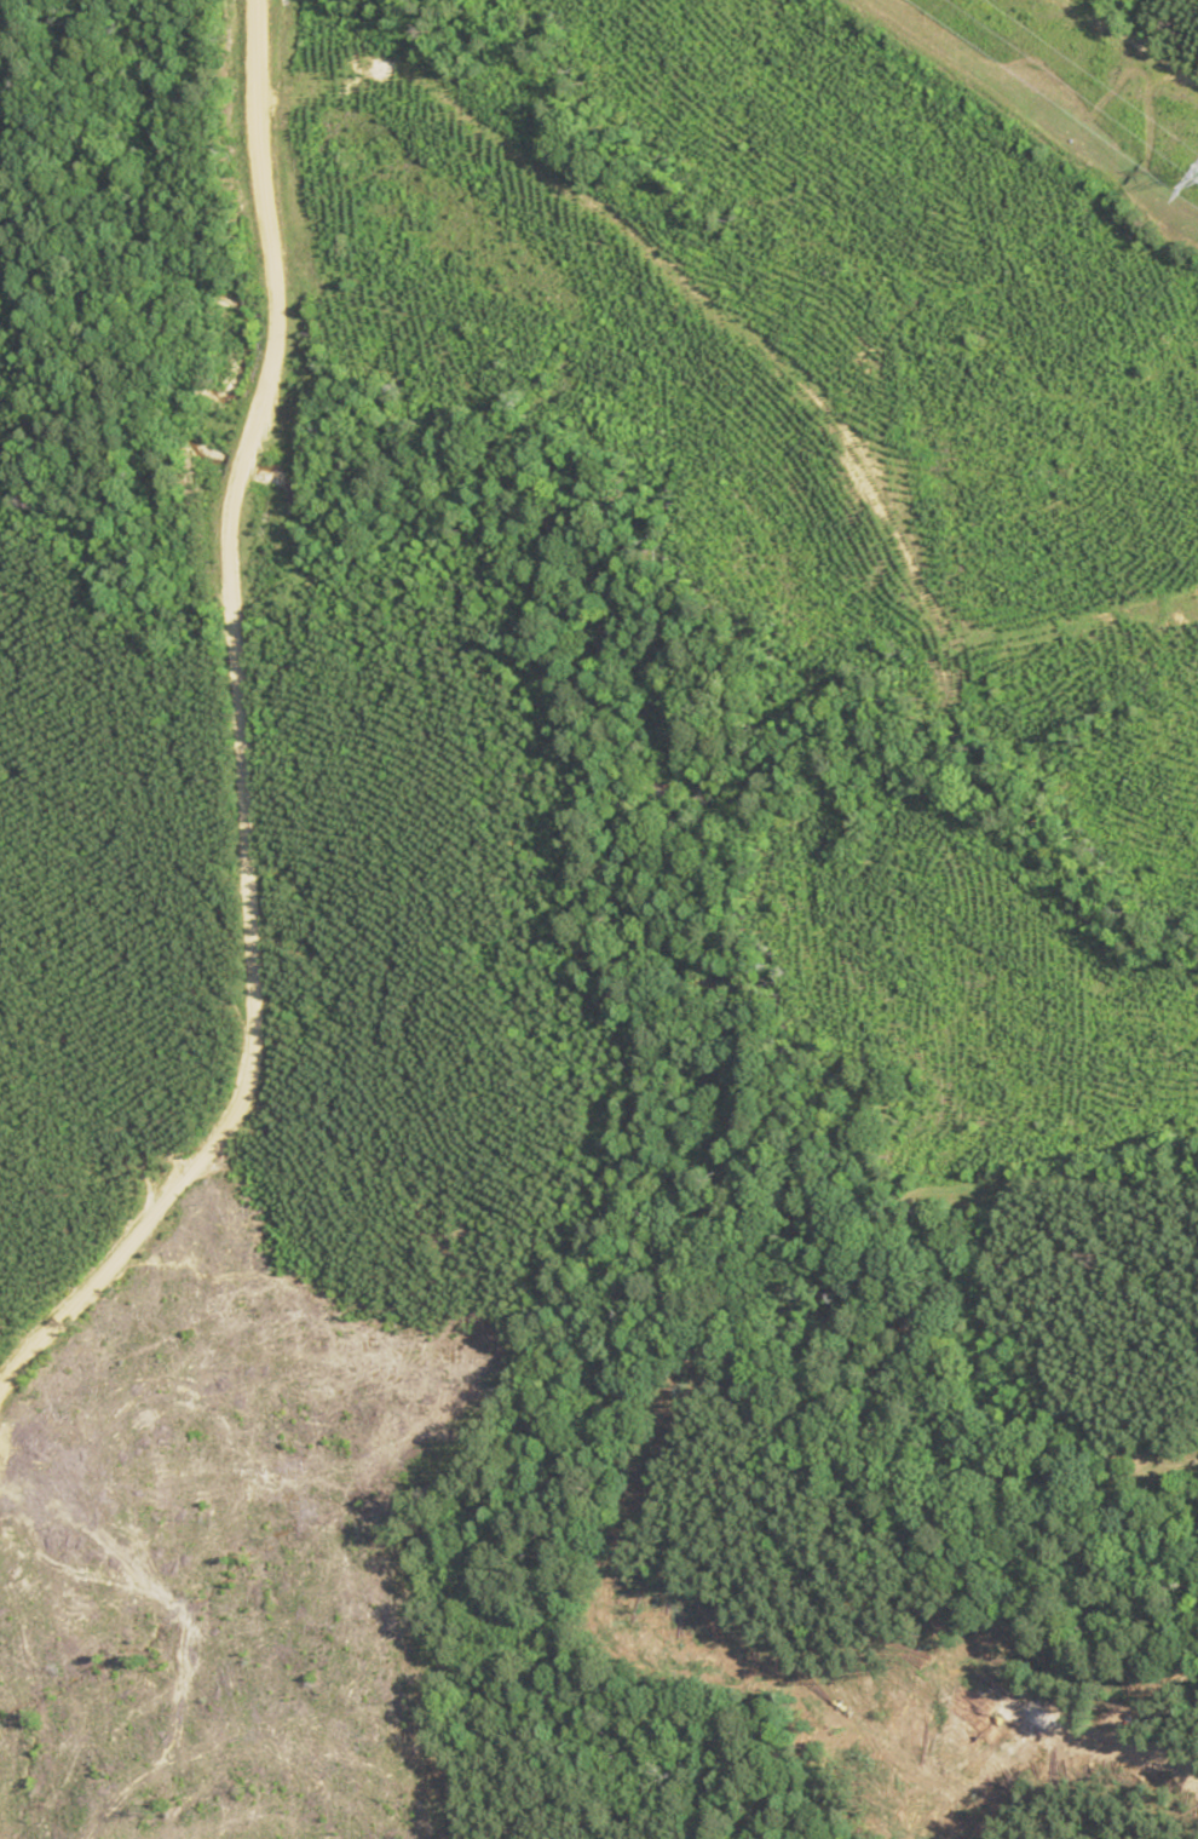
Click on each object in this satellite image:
road: (232, 749)

